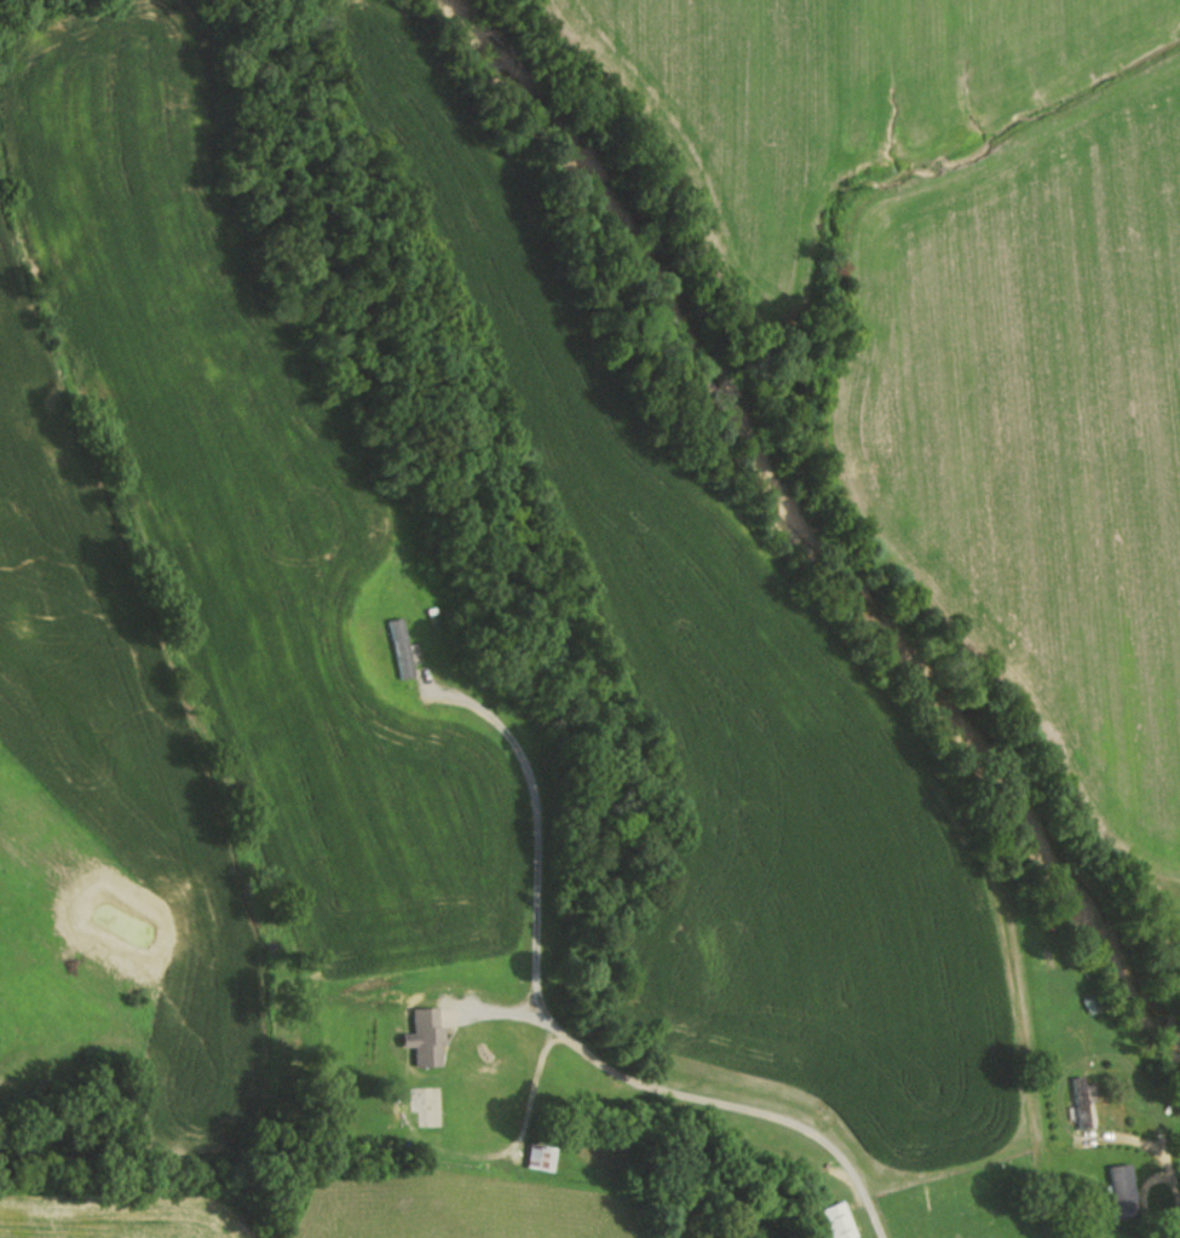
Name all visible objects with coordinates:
building: (399, 649)
building: (427, 1035)
road: (572, 1038)
building: (1077, 1104)
building: (1118, 1192)
building: (831, 1221)
road: (880, 1234)

